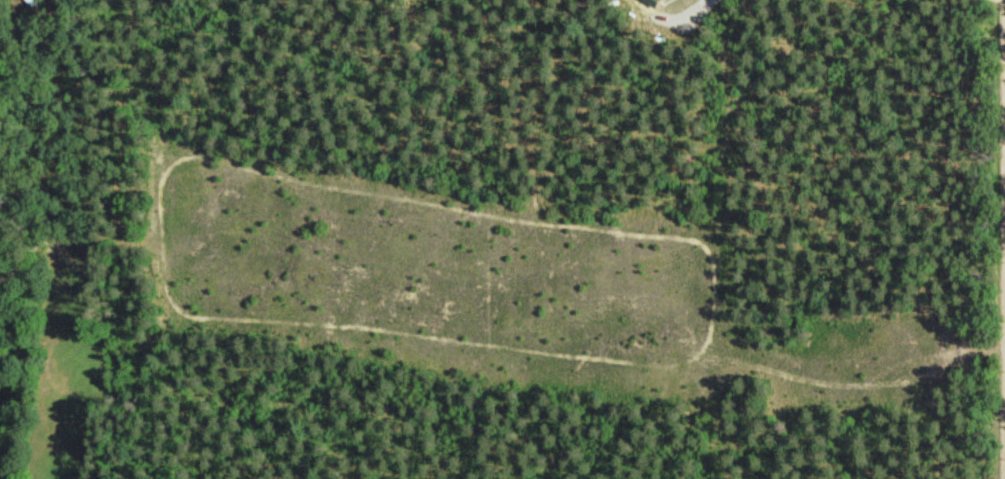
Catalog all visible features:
park: (387, 309)

